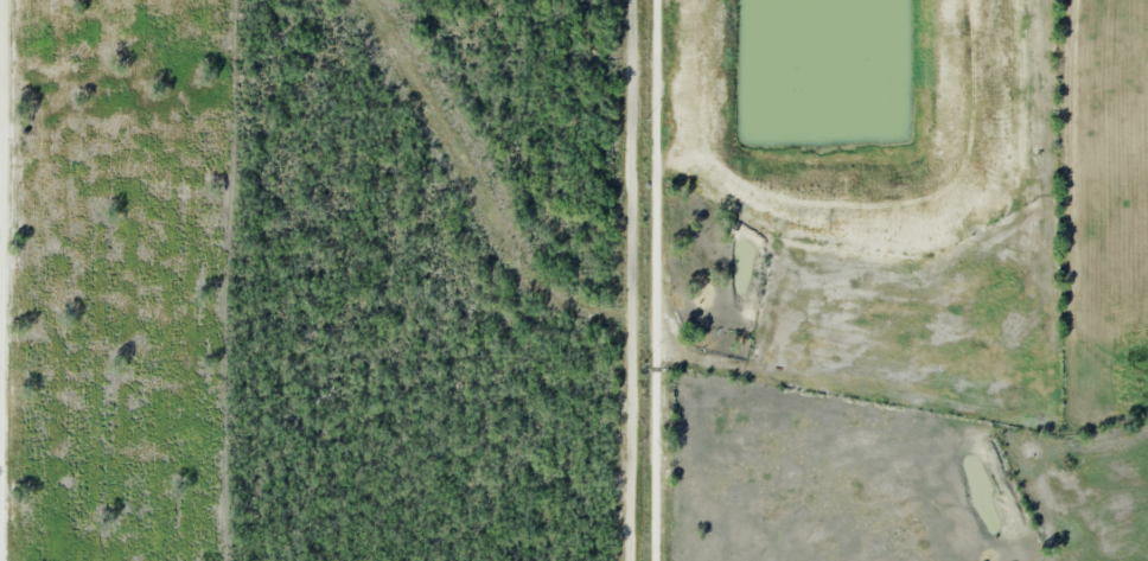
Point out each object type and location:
road: (656, 280)

